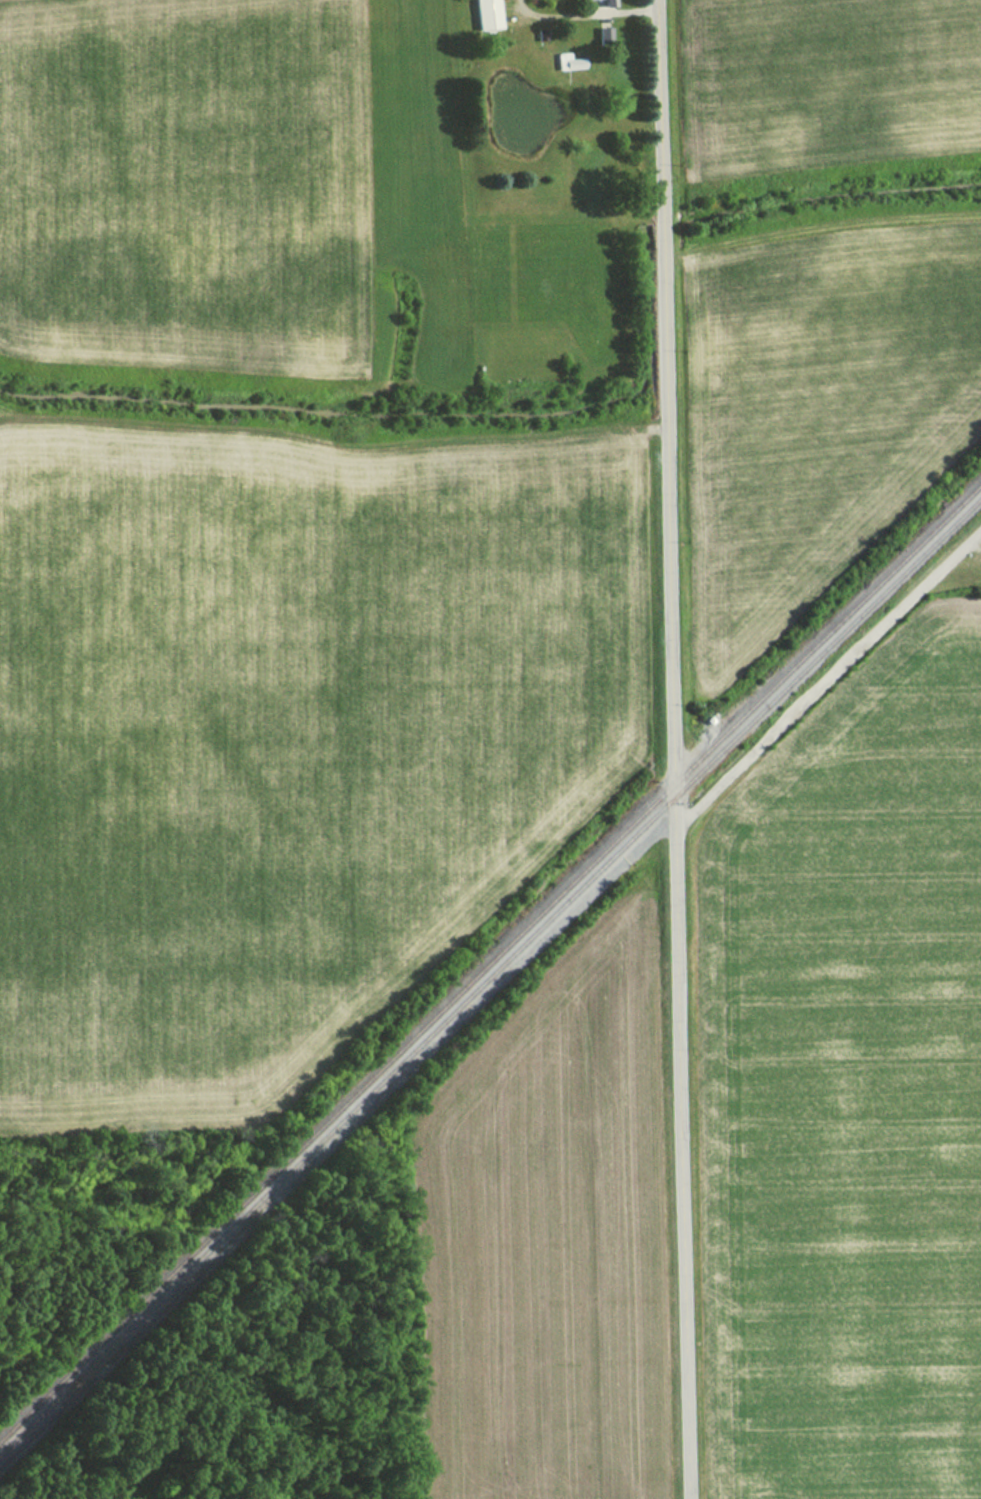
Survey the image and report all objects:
road: (583, 5)
crop: (825, 85)
crop: (182, 178)
crop: (814, 410)
road: (968, 562)
park: (839, 669)
road: (827, 680)
road: (668, 749)
crop: (278, 754)
railway: (487, 956)
railway: (488, 976)
crop: (849, 1096)
crop: (539, 1255)

